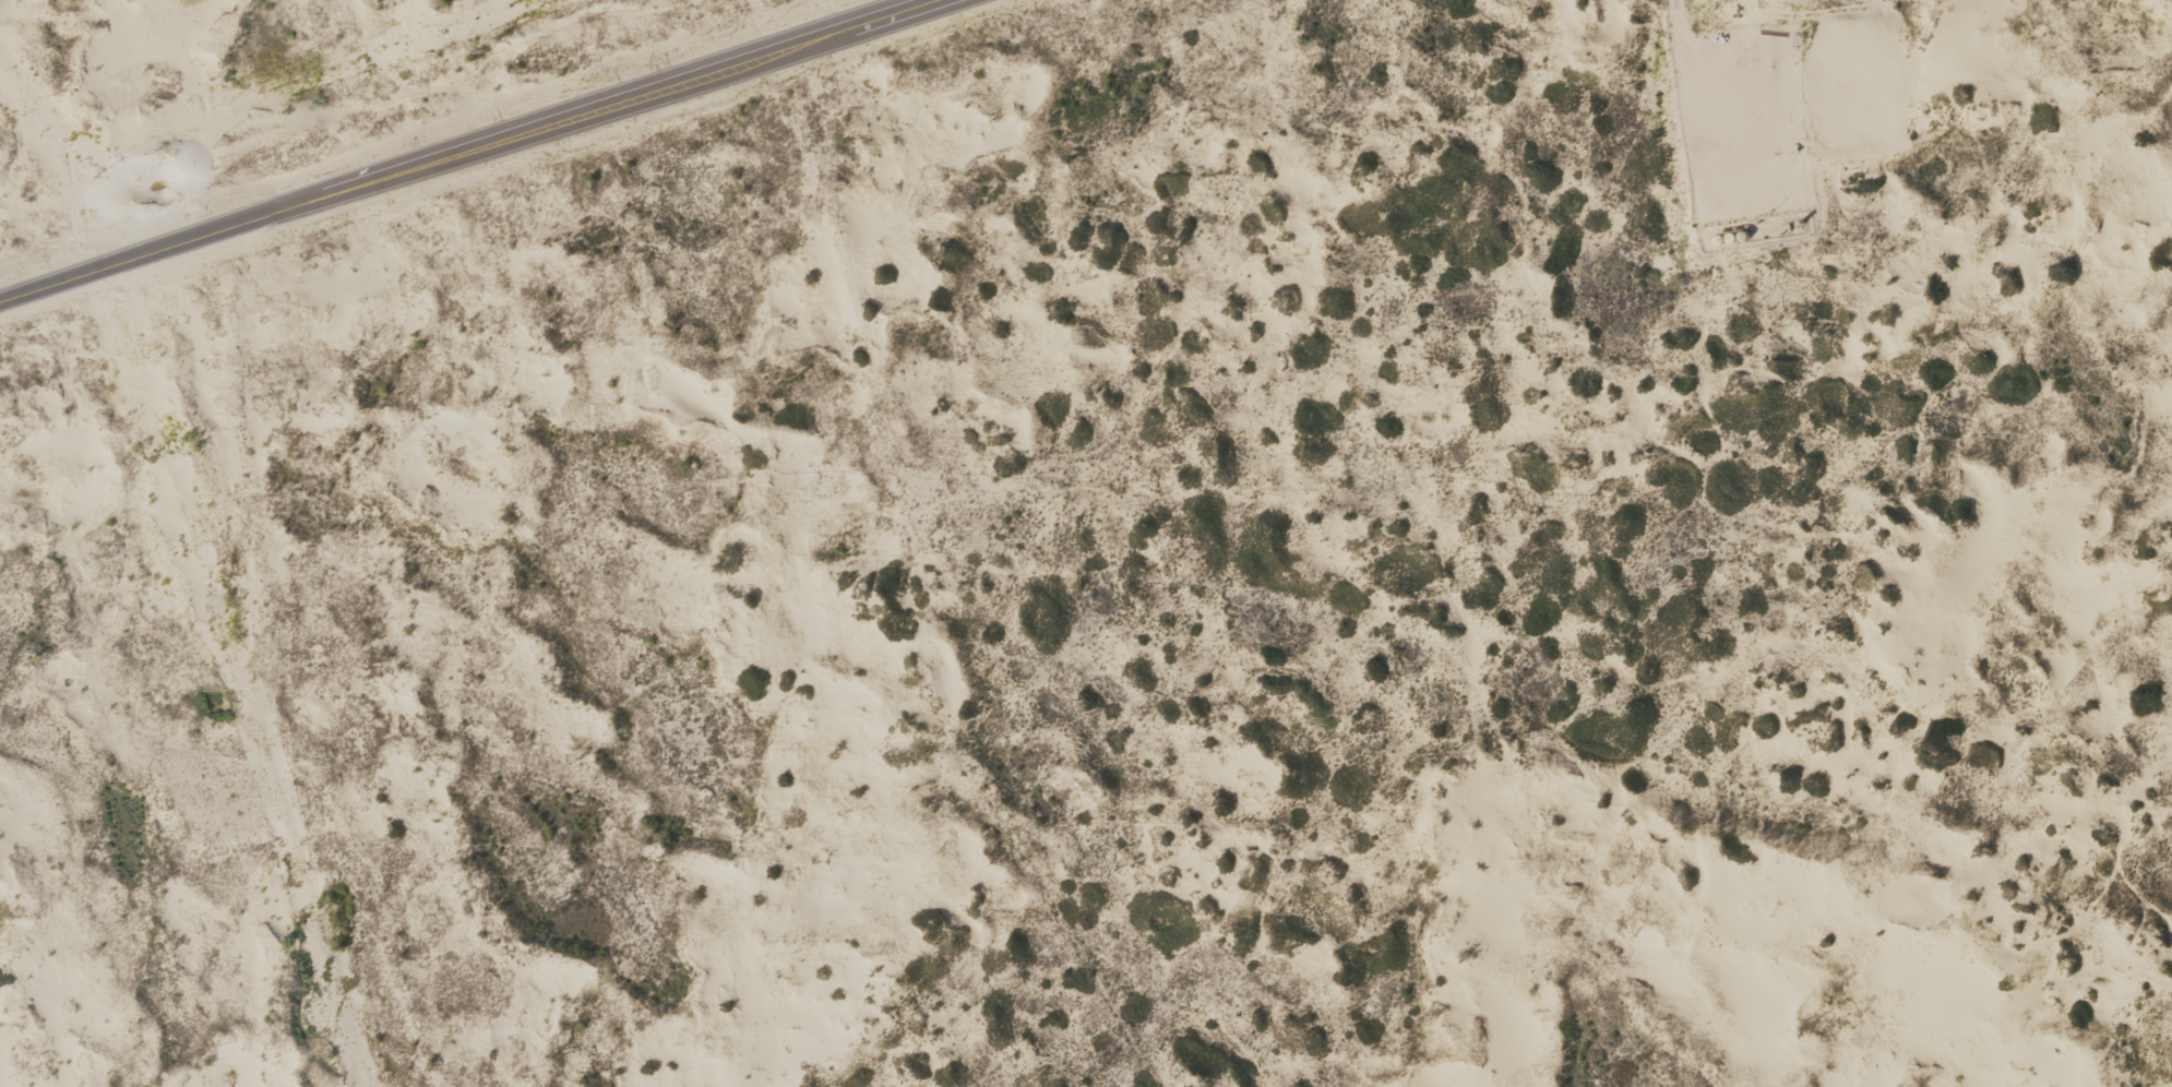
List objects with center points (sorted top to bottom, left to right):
road: (467, 150)

